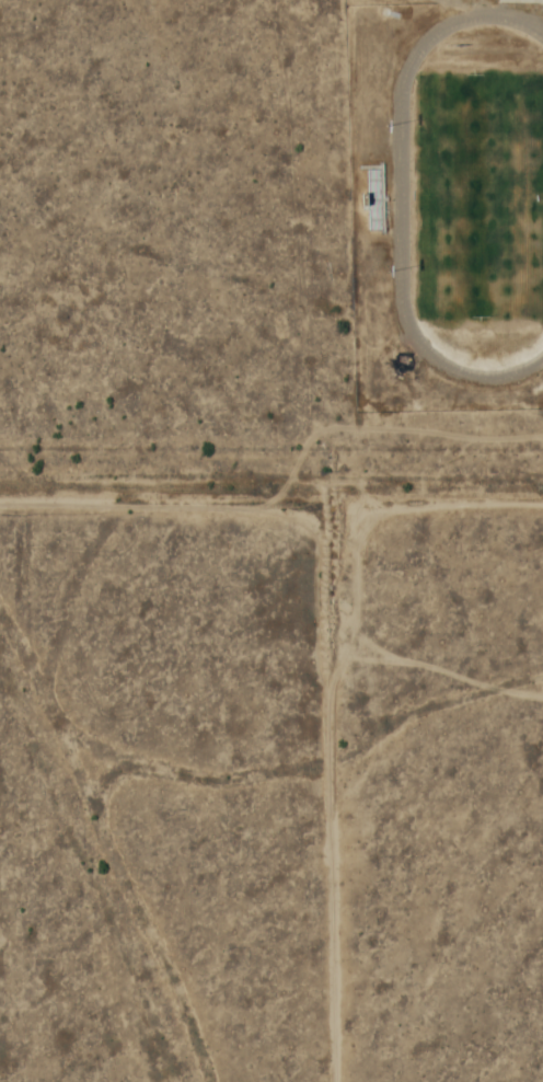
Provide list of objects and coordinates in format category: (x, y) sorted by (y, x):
building: (373, 198)
road: (271, 506)

